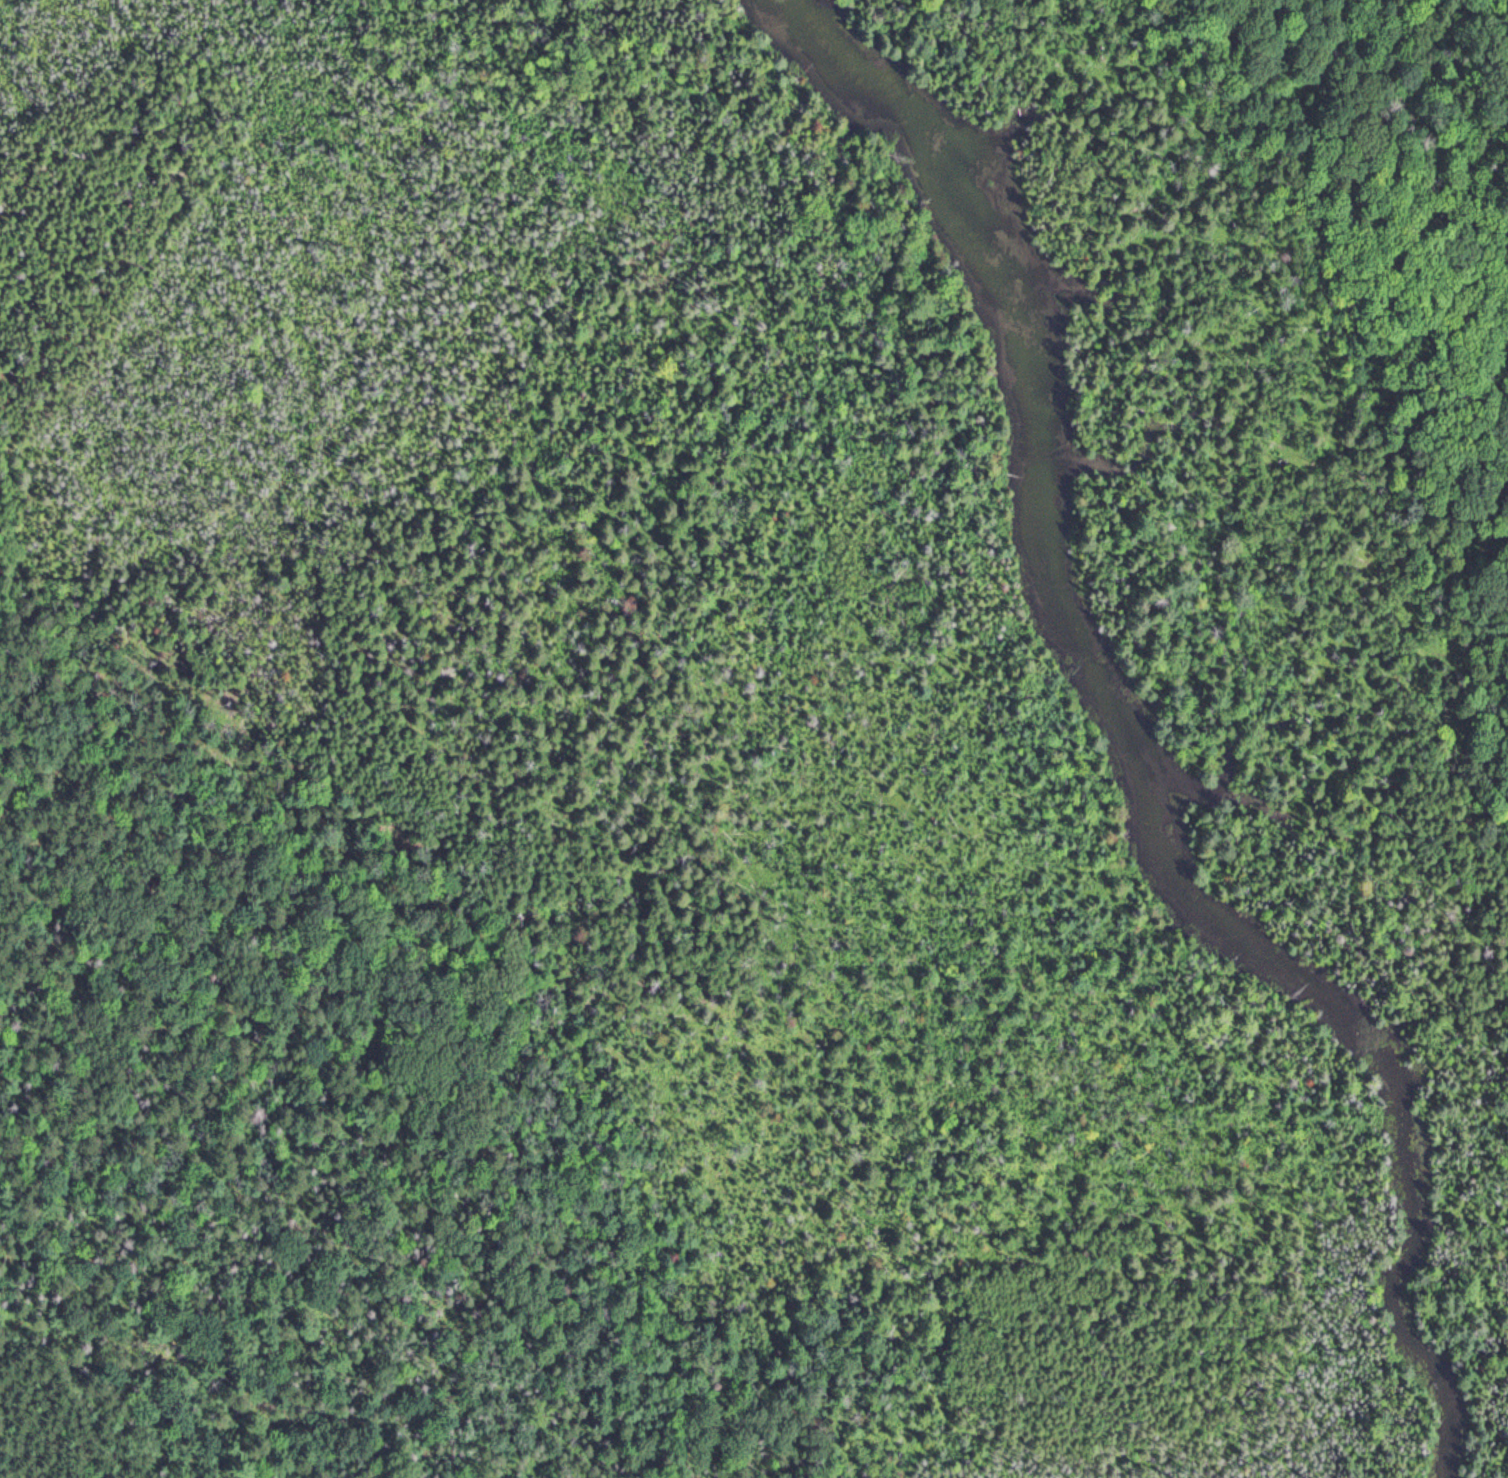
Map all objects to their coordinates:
road: (1391, 141)
river: (1121, 757)

